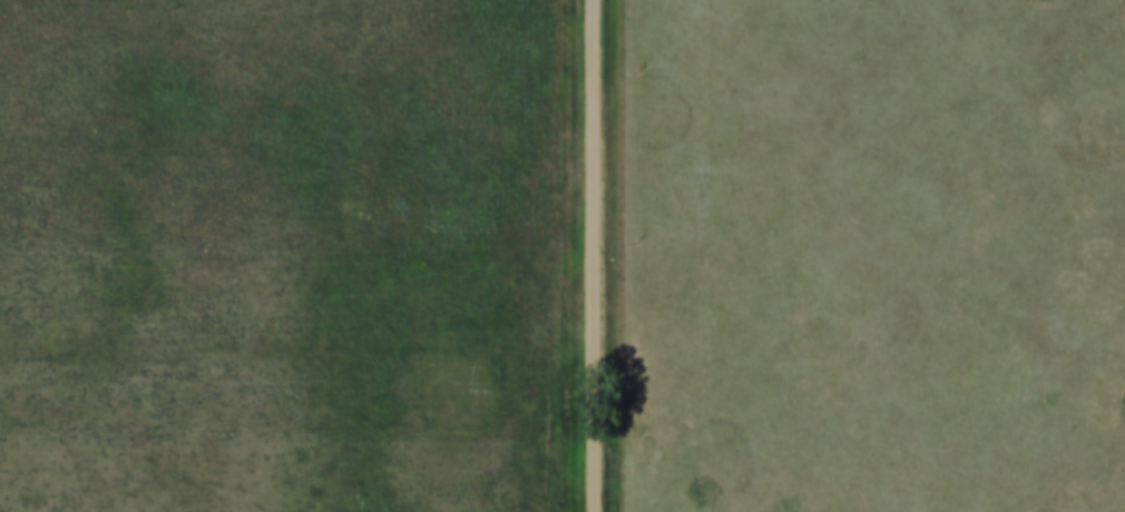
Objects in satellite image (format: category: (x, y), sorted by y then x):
road: (599, 255)

